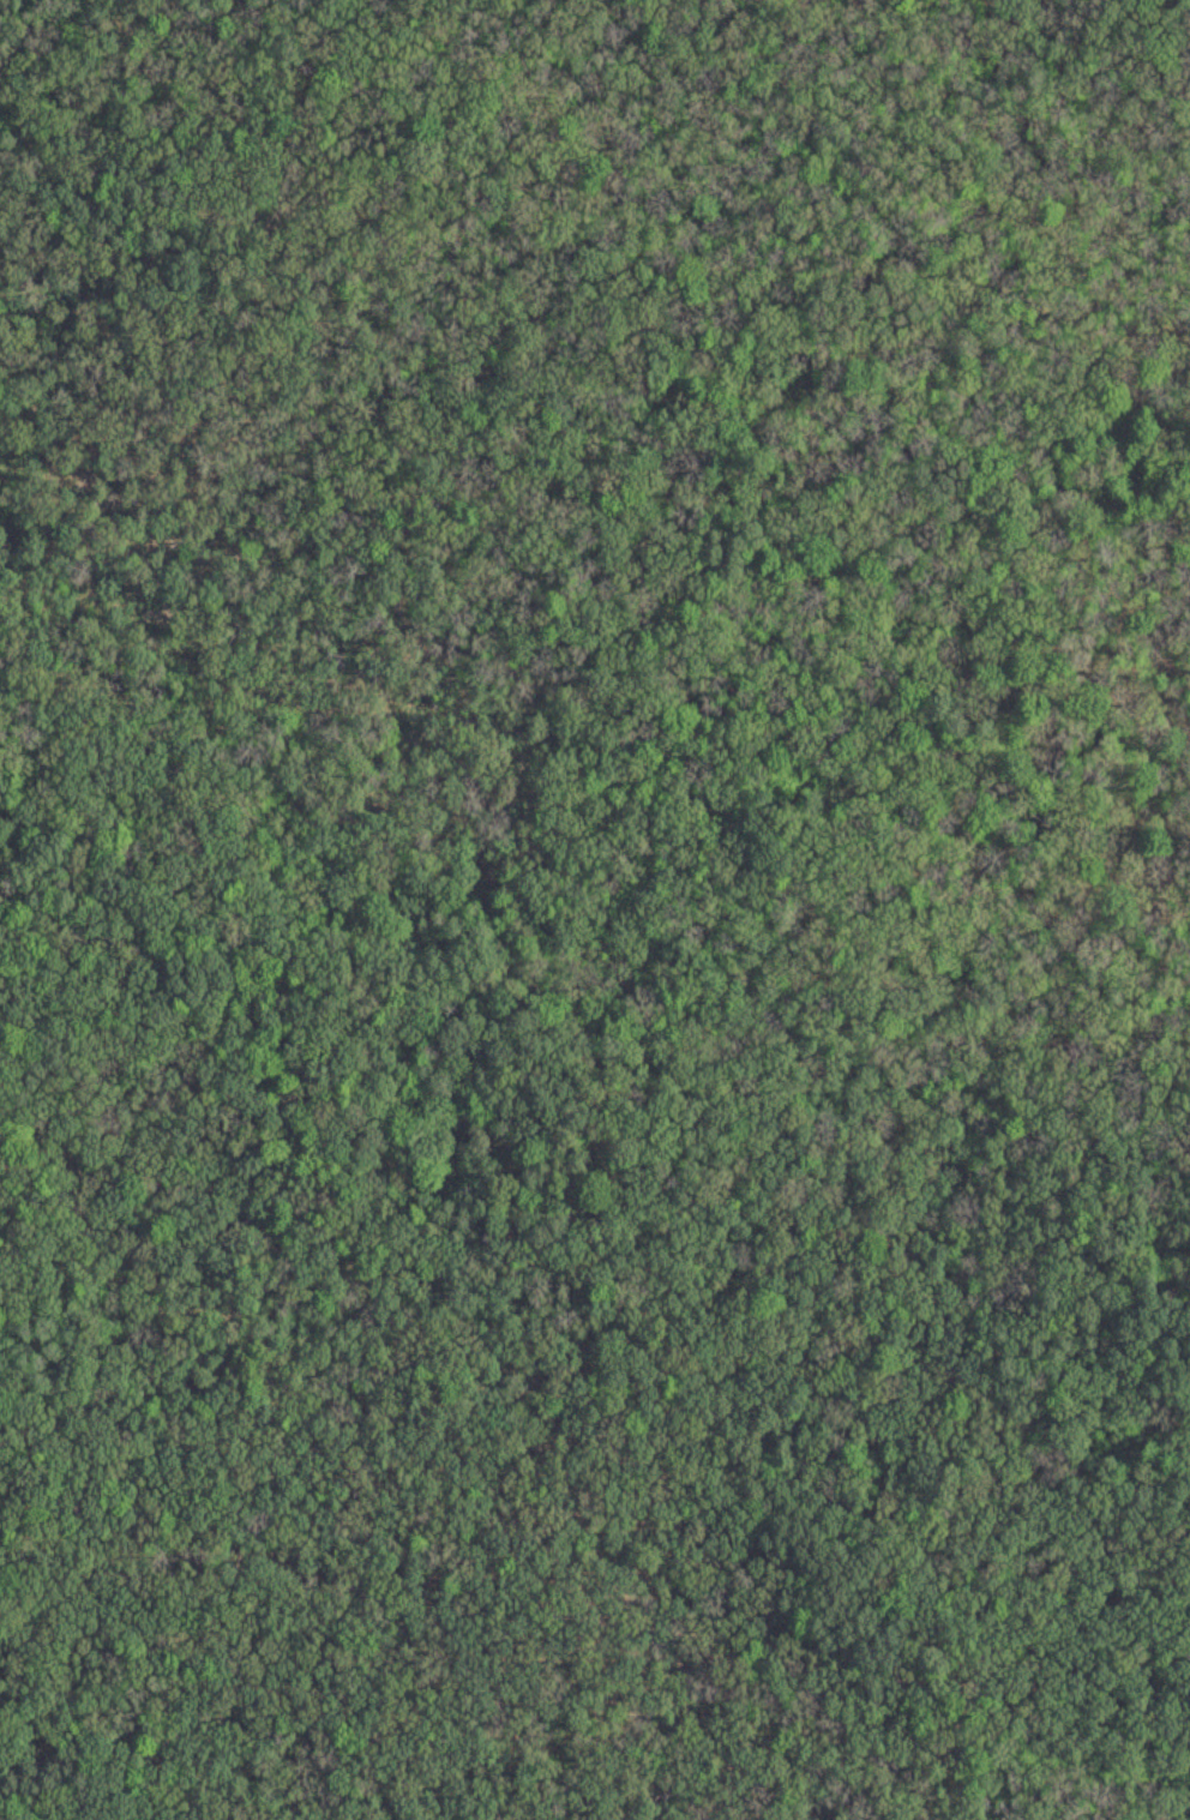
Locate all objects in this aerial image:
road: (1022, 573)

